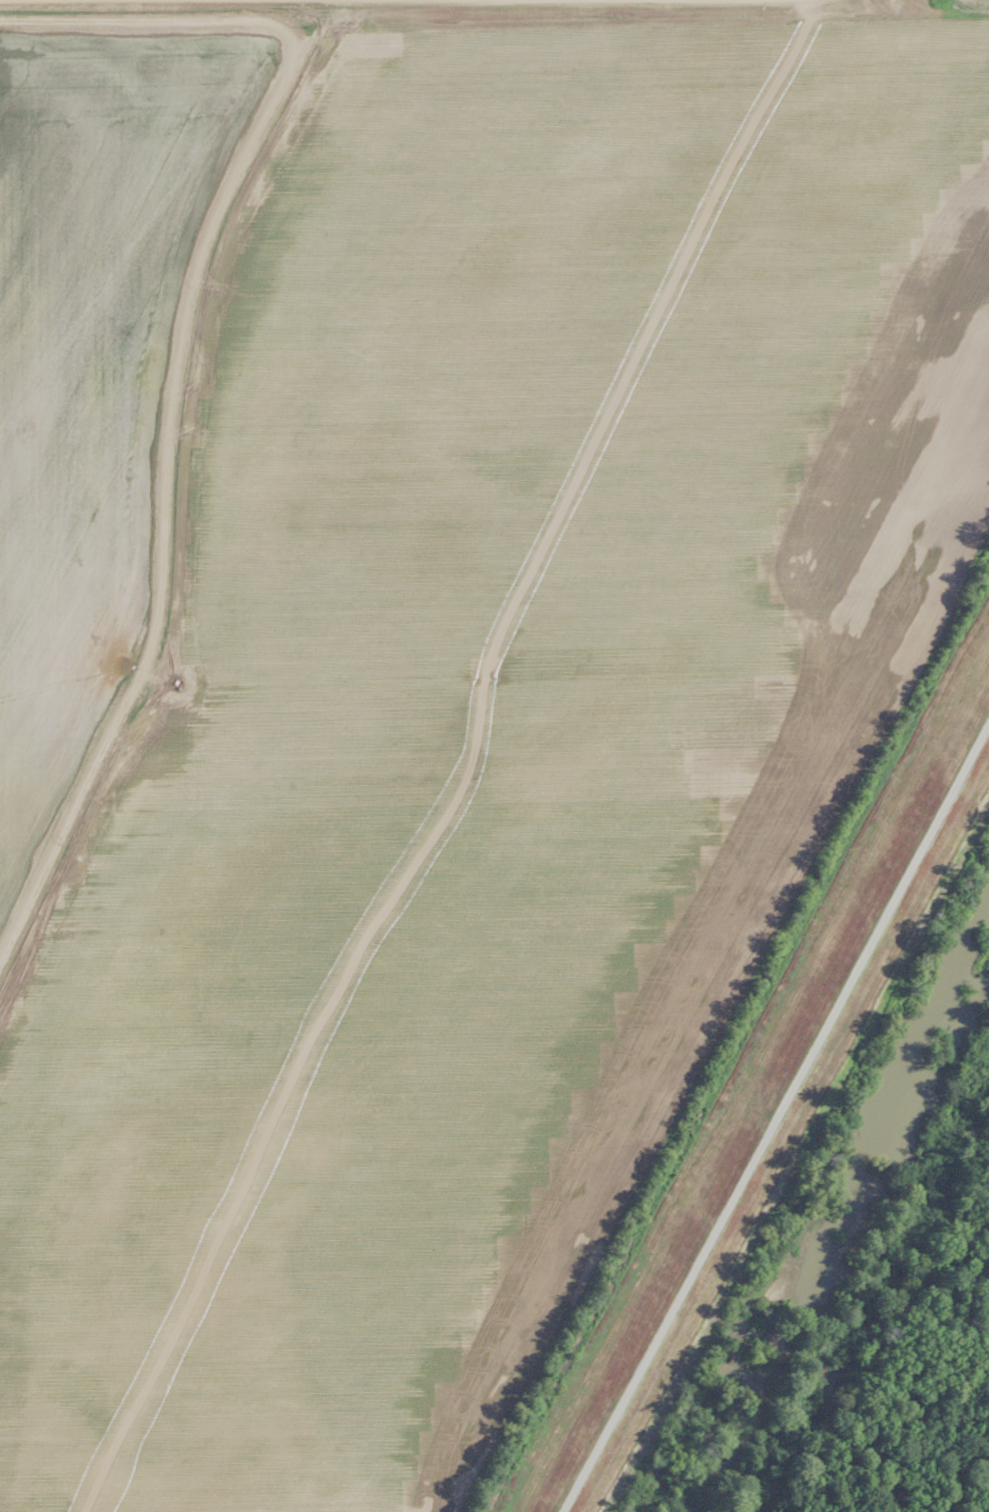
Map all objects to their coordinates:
road: (776, 1116)

